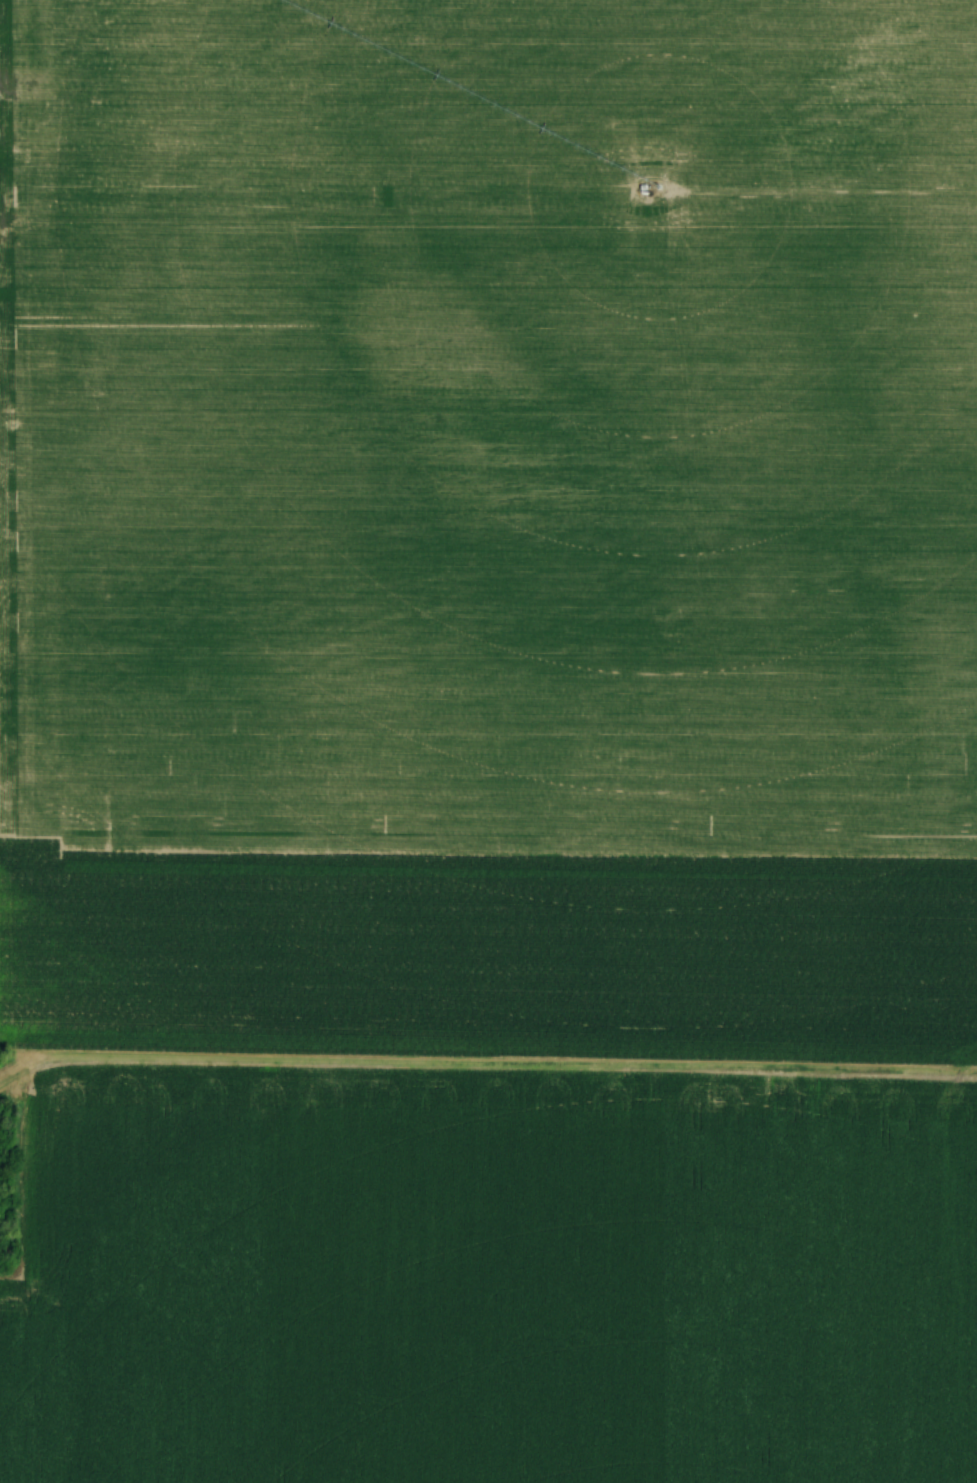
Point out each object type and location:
road: (488, 1072)
park: (1, 1139)

